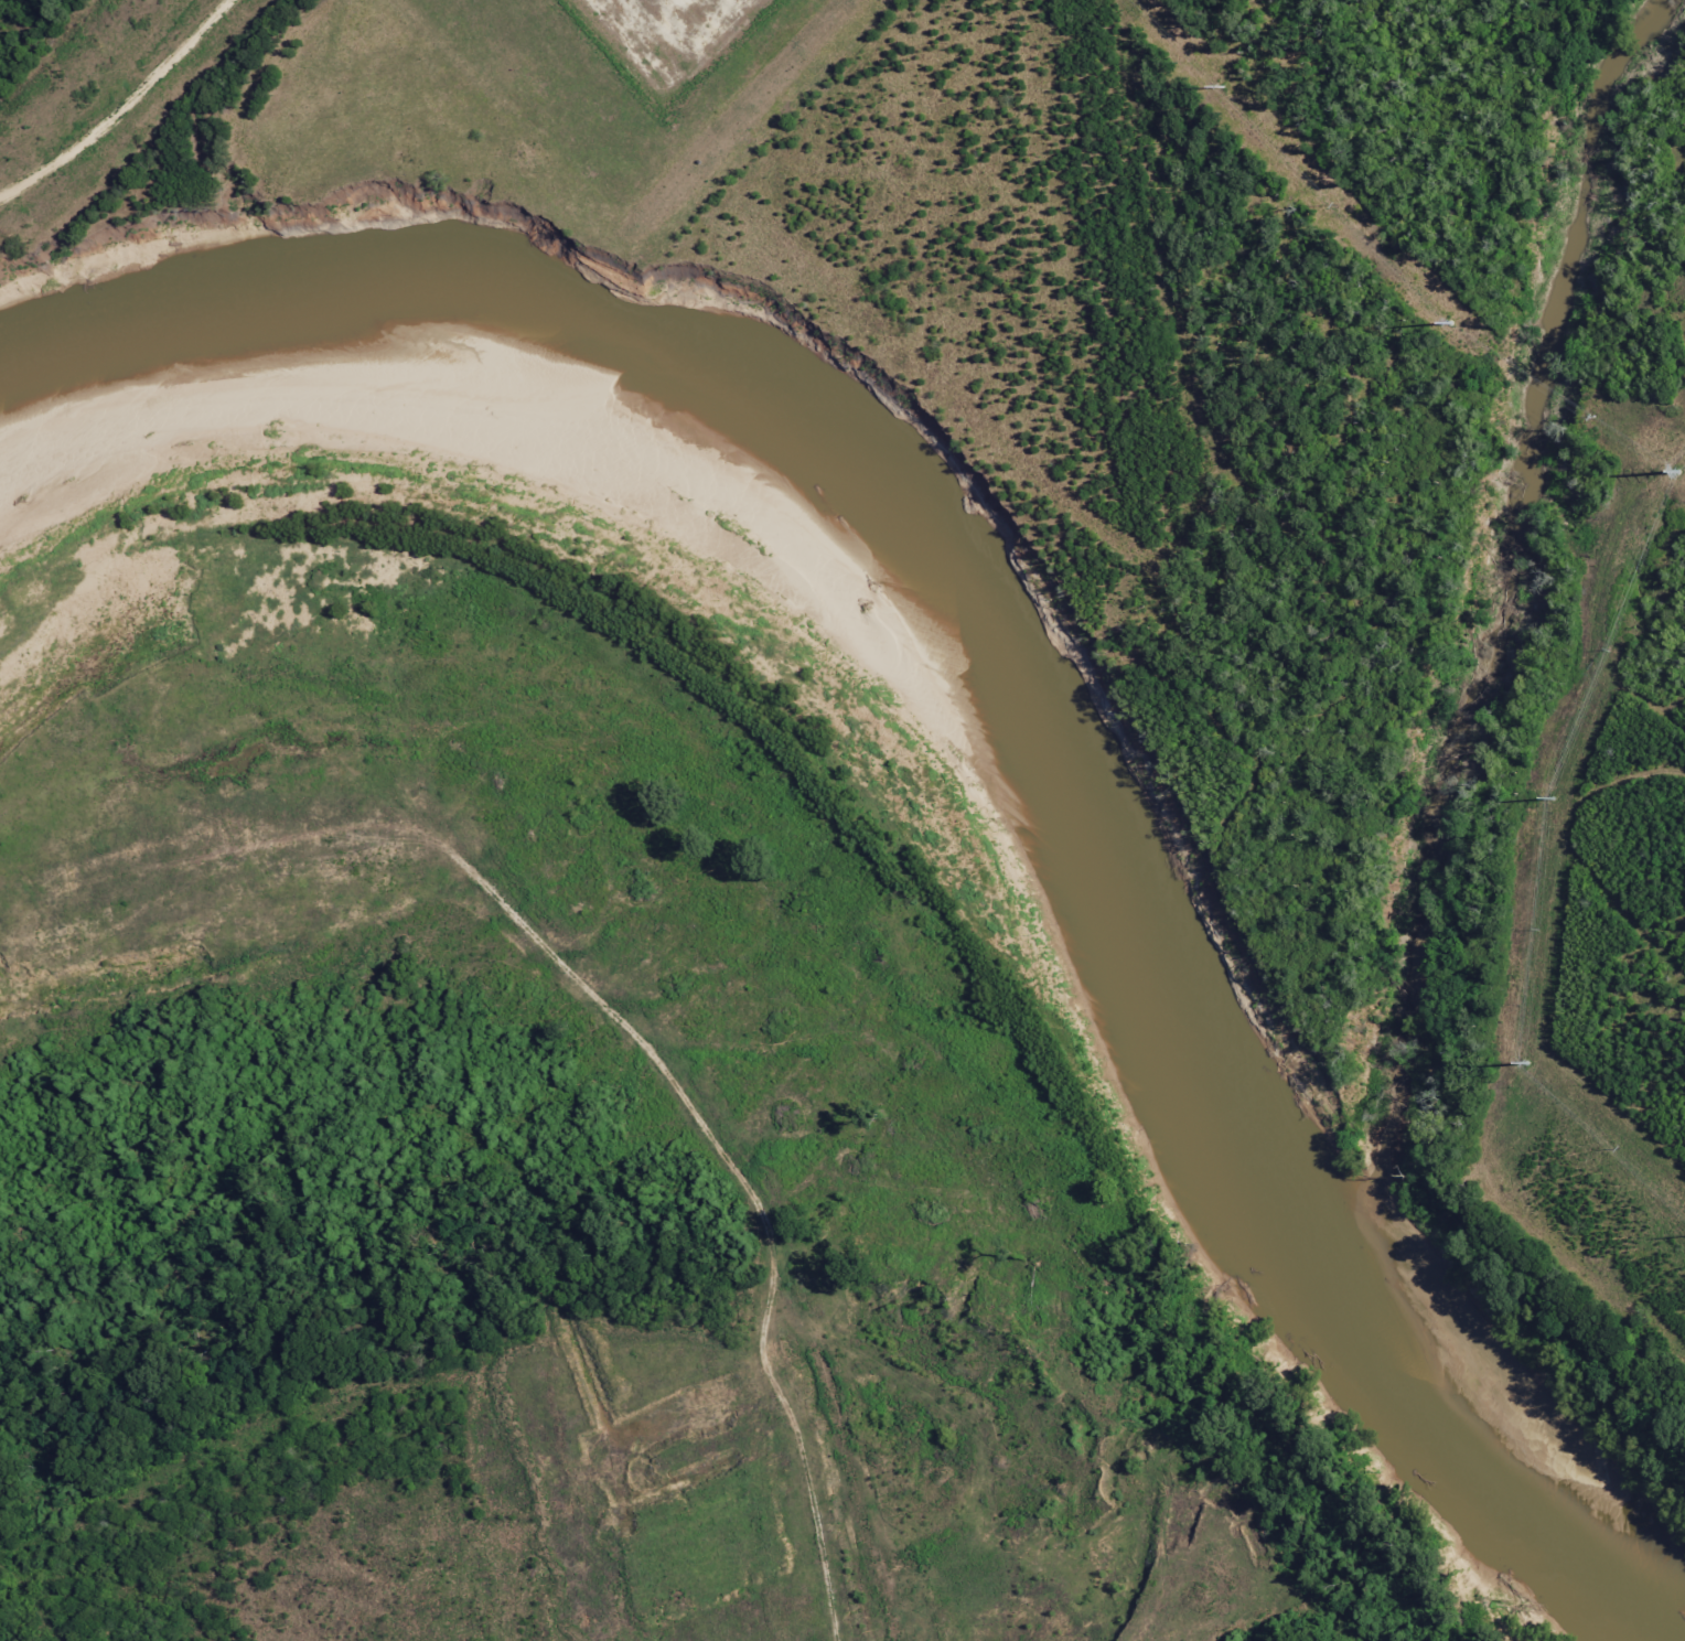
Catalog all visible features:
power tower: (1677, 474)
river: (963, 757)
power tower: (1552, 798)
power tower: (1524, 1063)
road: (1141, 1640)

